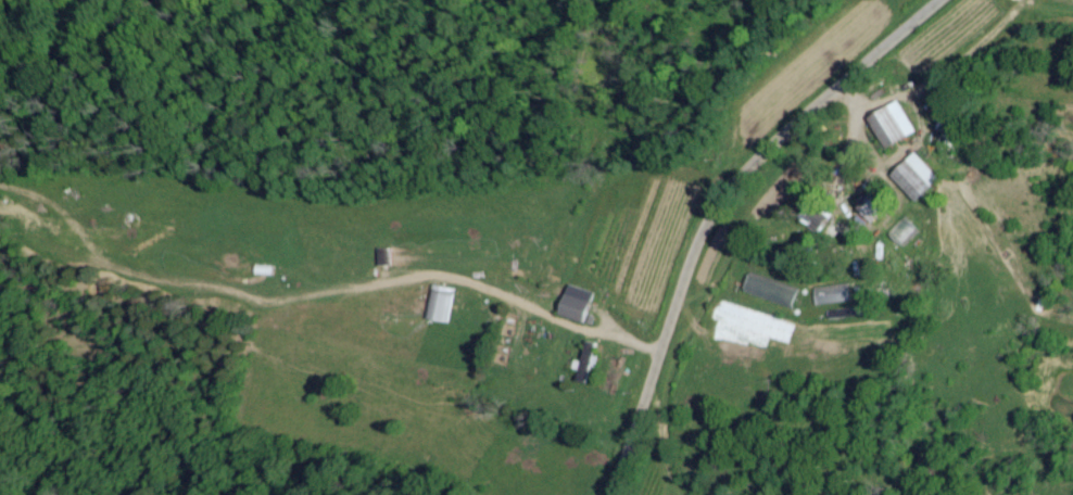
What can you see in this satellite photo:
building: (893, 127)
building: (916, 178)
road: (717, 207)
building: (870, 210)
building: (817, 219)
building: (769, 291)
building: (831, 295)
building: (577, 304)

